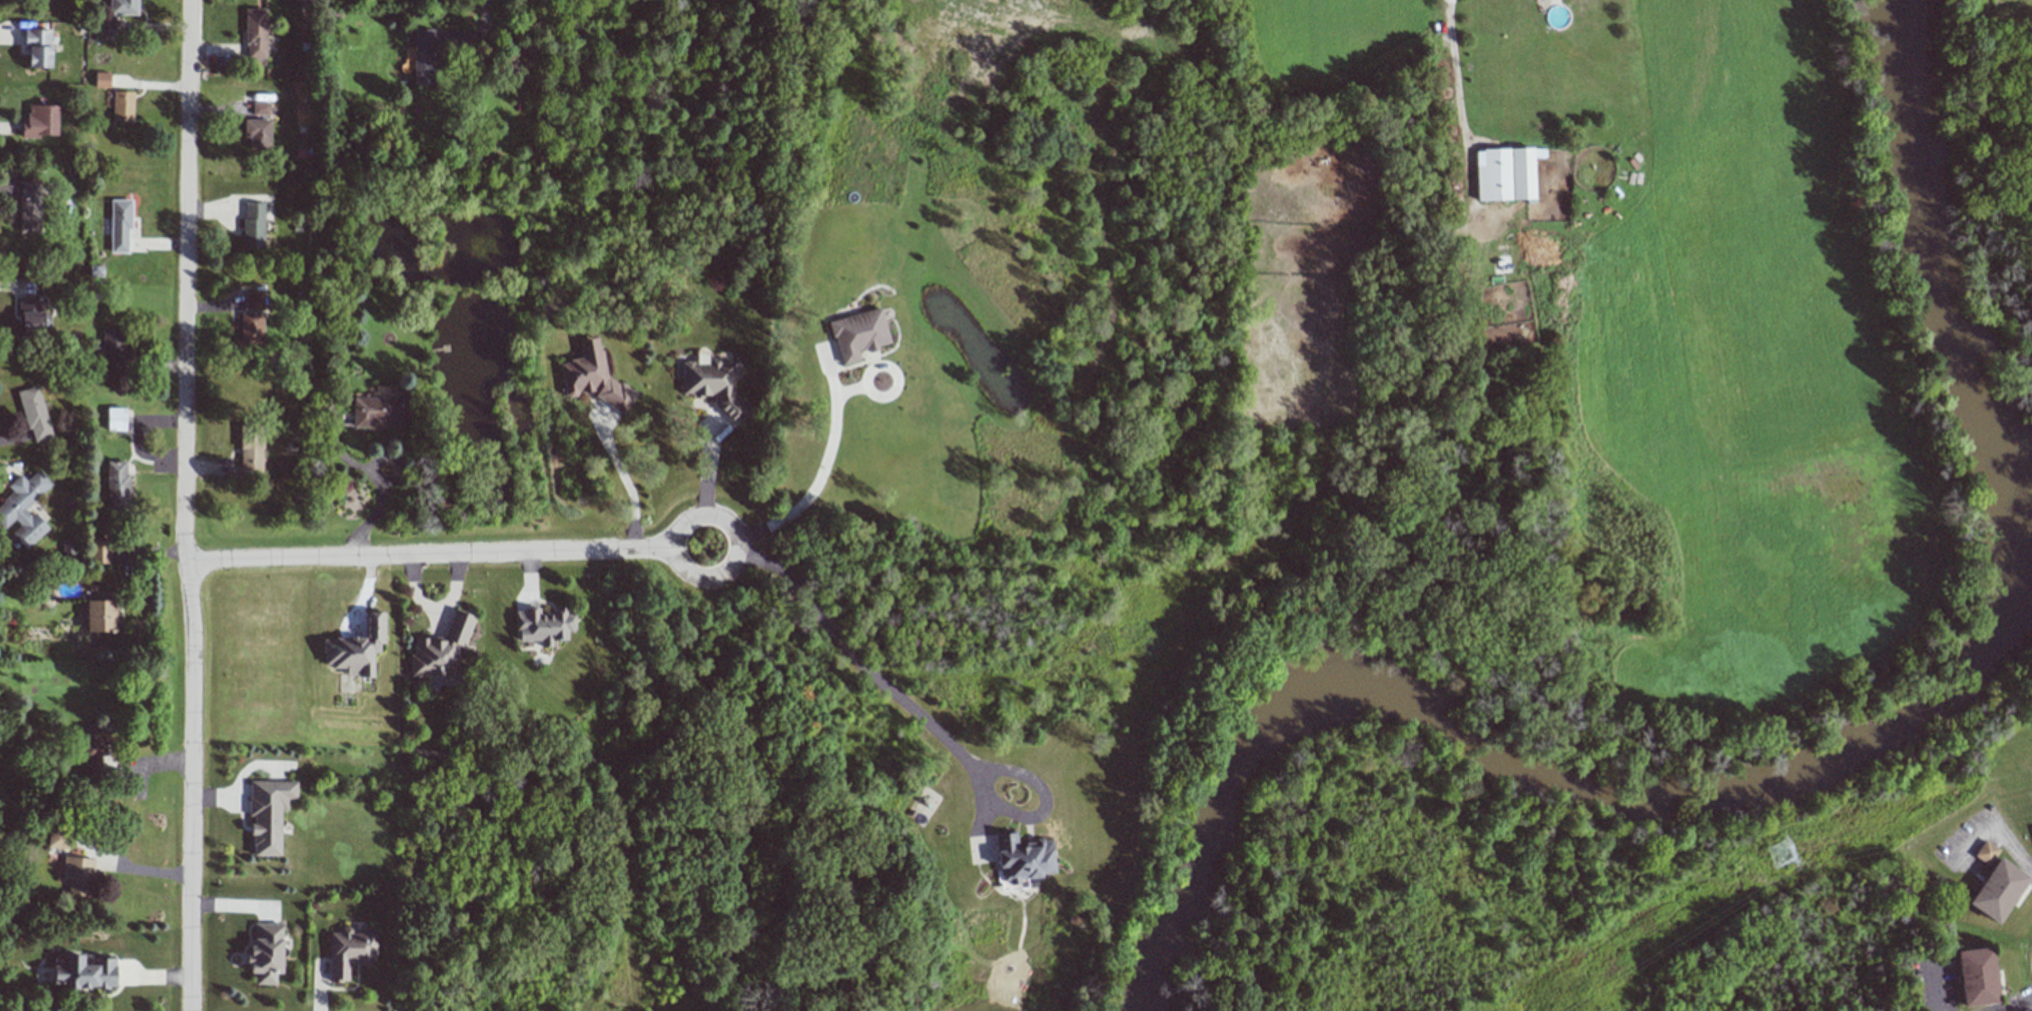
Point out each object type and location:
building: (123, 7)
building: (255, 33)
building: (38, 47)
building: (423, 57)
building: (102, 79)
road: (485, 92)
building: (122, 105)
building: (260, 108)
building: (39, 121)
road: (1460, 130)
building: (257, 133)
building: (1505, 174)
building: (30, 207)
building: (119, 224)
building: (253, 225)
building: (31, 316)
building: (251, 318)
building: (858, 334)
building: (114, 353)
building: (594, 377)
building: (715, 386)
building: (379, 411)
building: (34, 413)
building: (115, 418)
building: (250, 455)
road: (822, 472)
road: (394, 475)
road: (622, 476)
building: (116, 485)
road: (186, 505)
building: (23, 507)
road: (366, 522)
building: (99, 551)
road: (428, 557)
road: (693, 579)
building: (101, 615)
building: (544, 624)
building: (356, 648)
building: (441, 648)
road: (918, 719)
building: (91, 748)
river: (1811, 774)
building: (267, 813)
road: (1995, 834)
building: (1985, 852)
power tower: (1779, 854)
building: (1022, 858)
building: (77, 875)
building: (1996, 890)
building: (349, 951)
building: (265, 953)
building: (85, 972)
building: (1975, 976)

